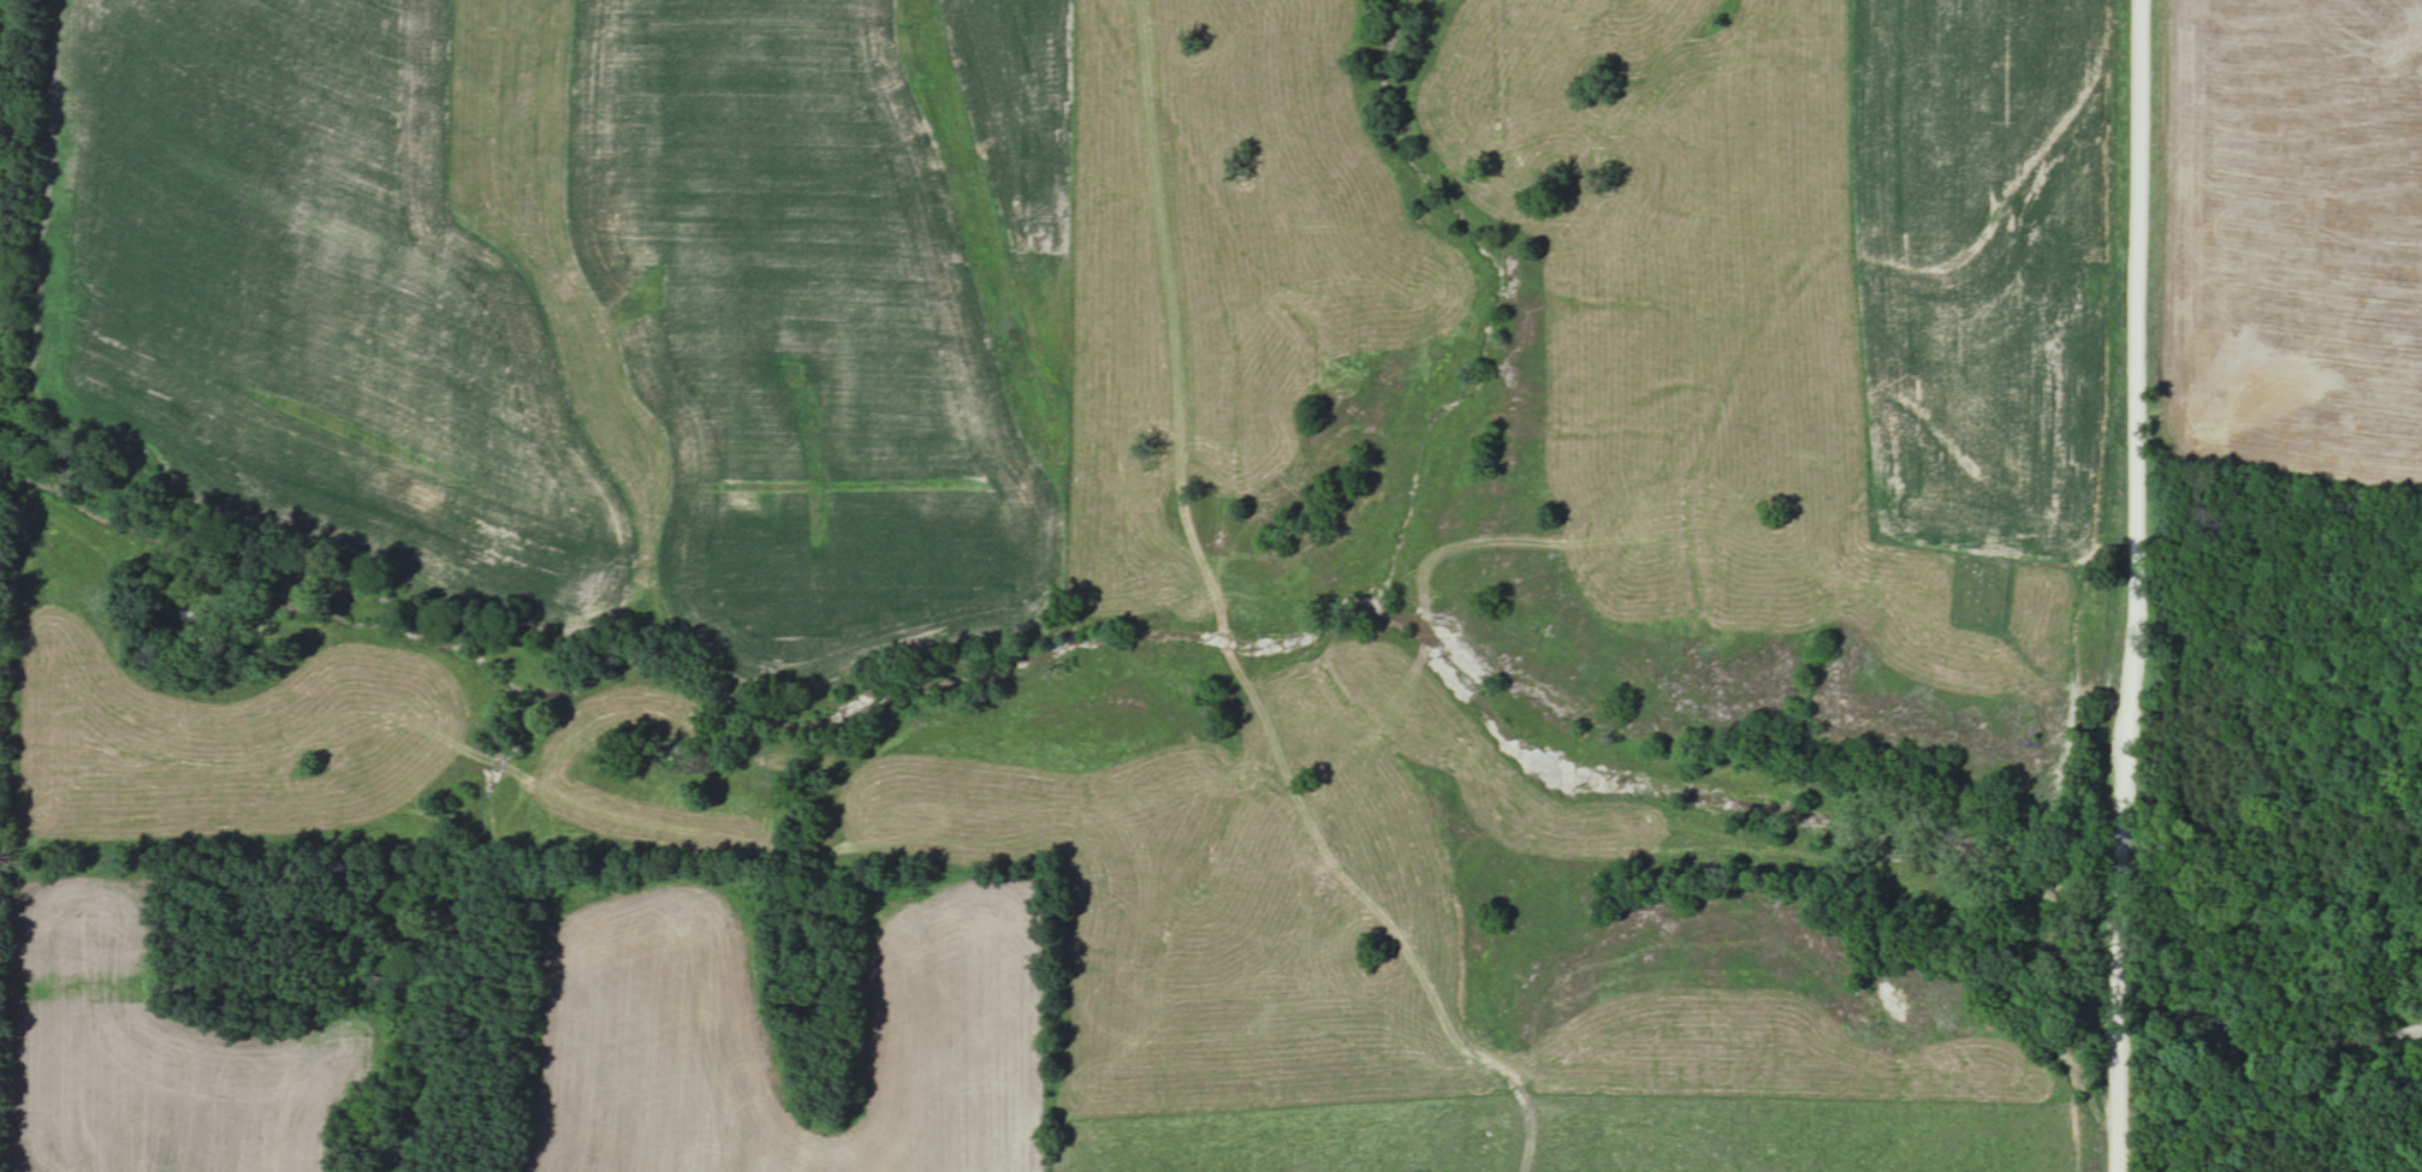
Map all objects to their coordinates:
road: (2139, 585)
park: (1983, 588)

